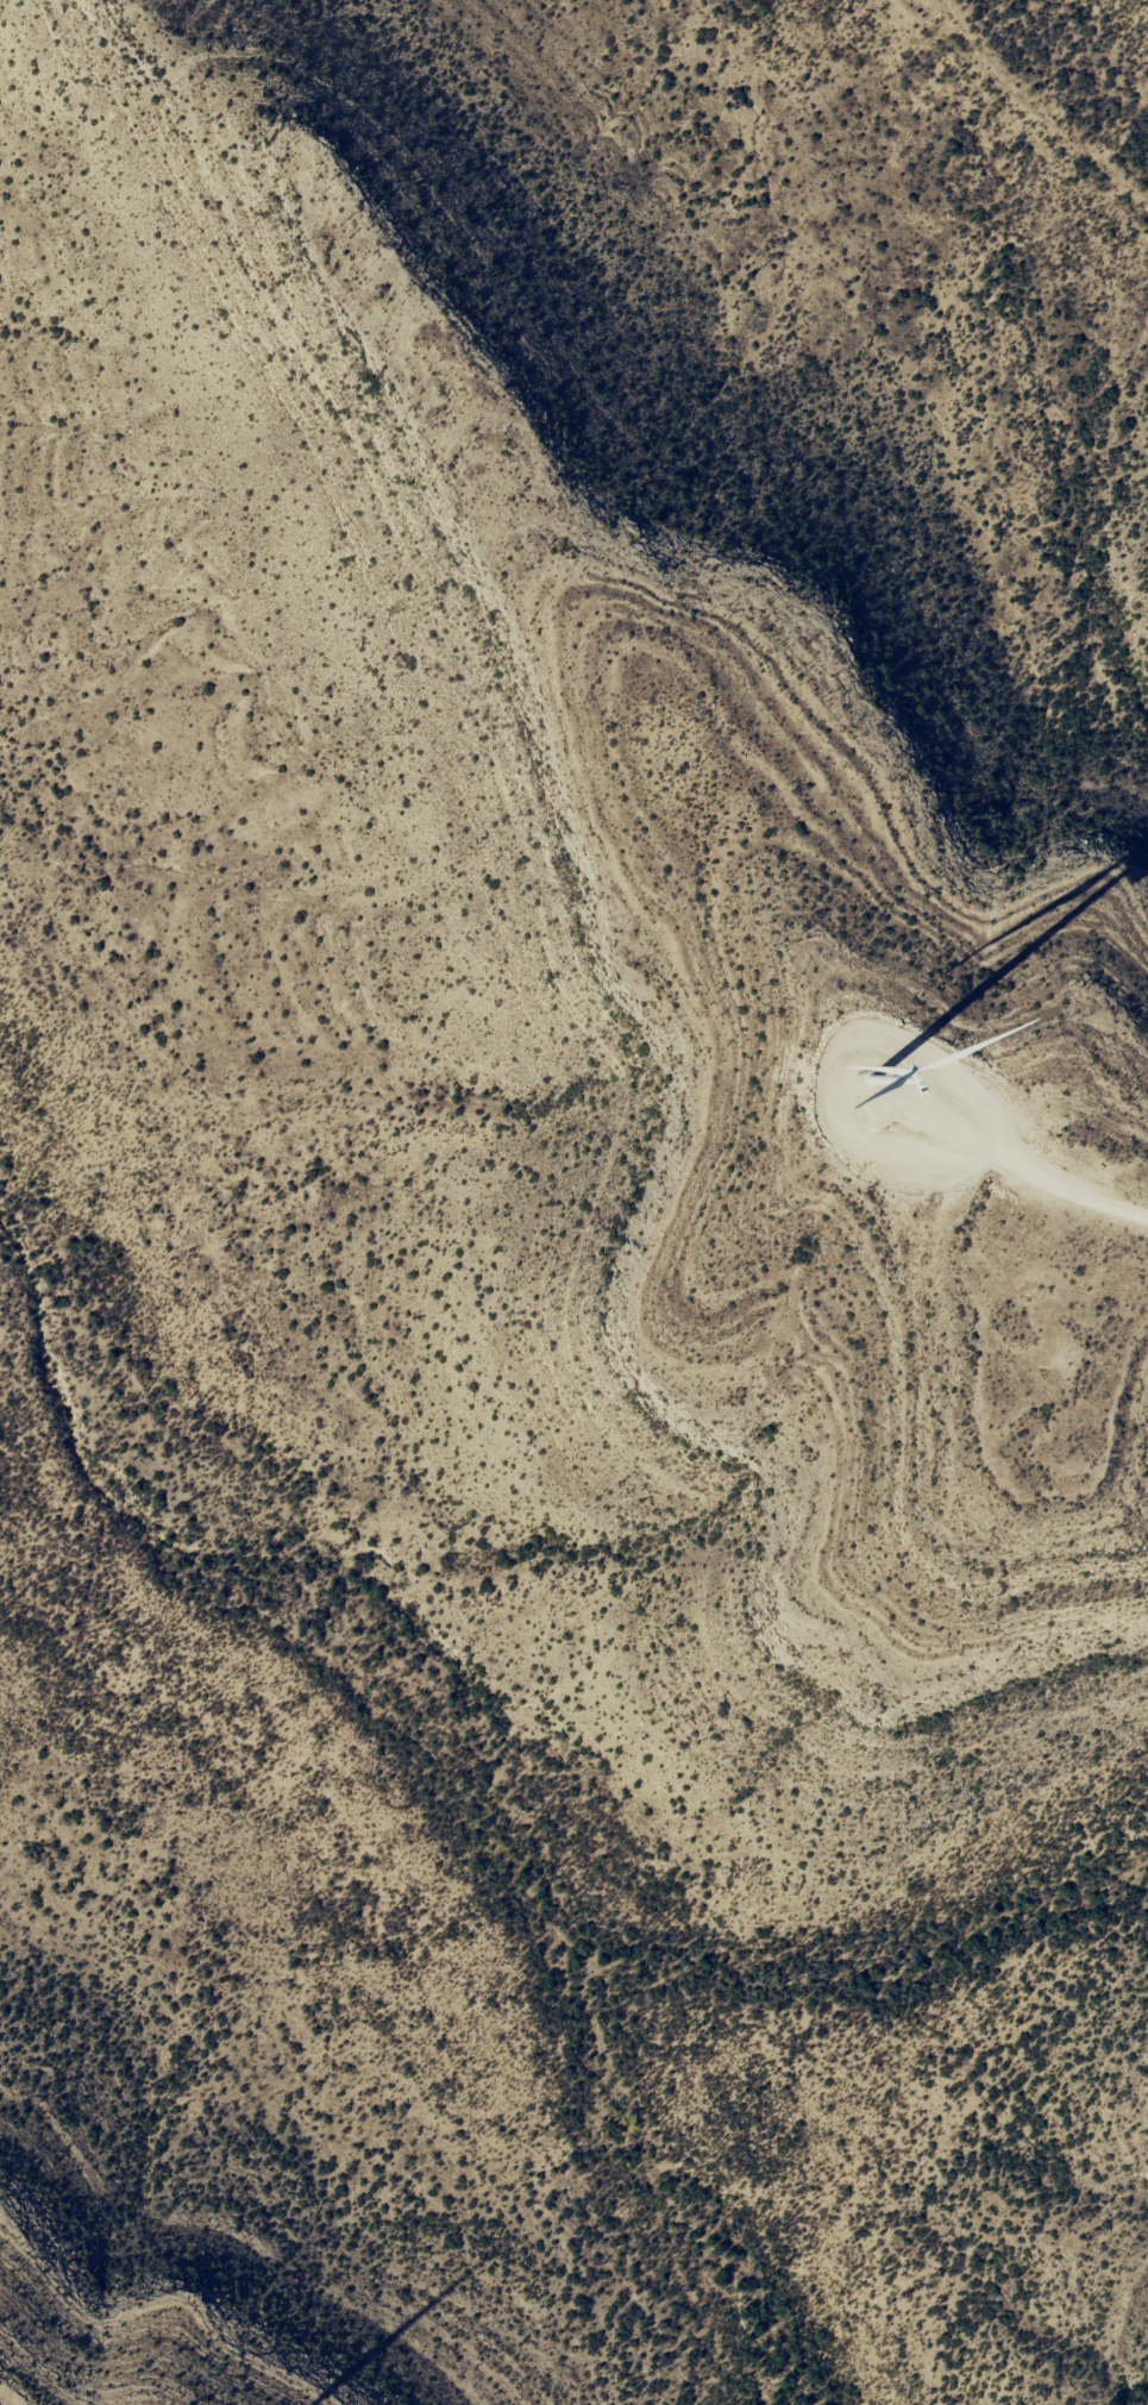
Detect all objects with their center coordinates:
wind turbine: (872, 1079)

